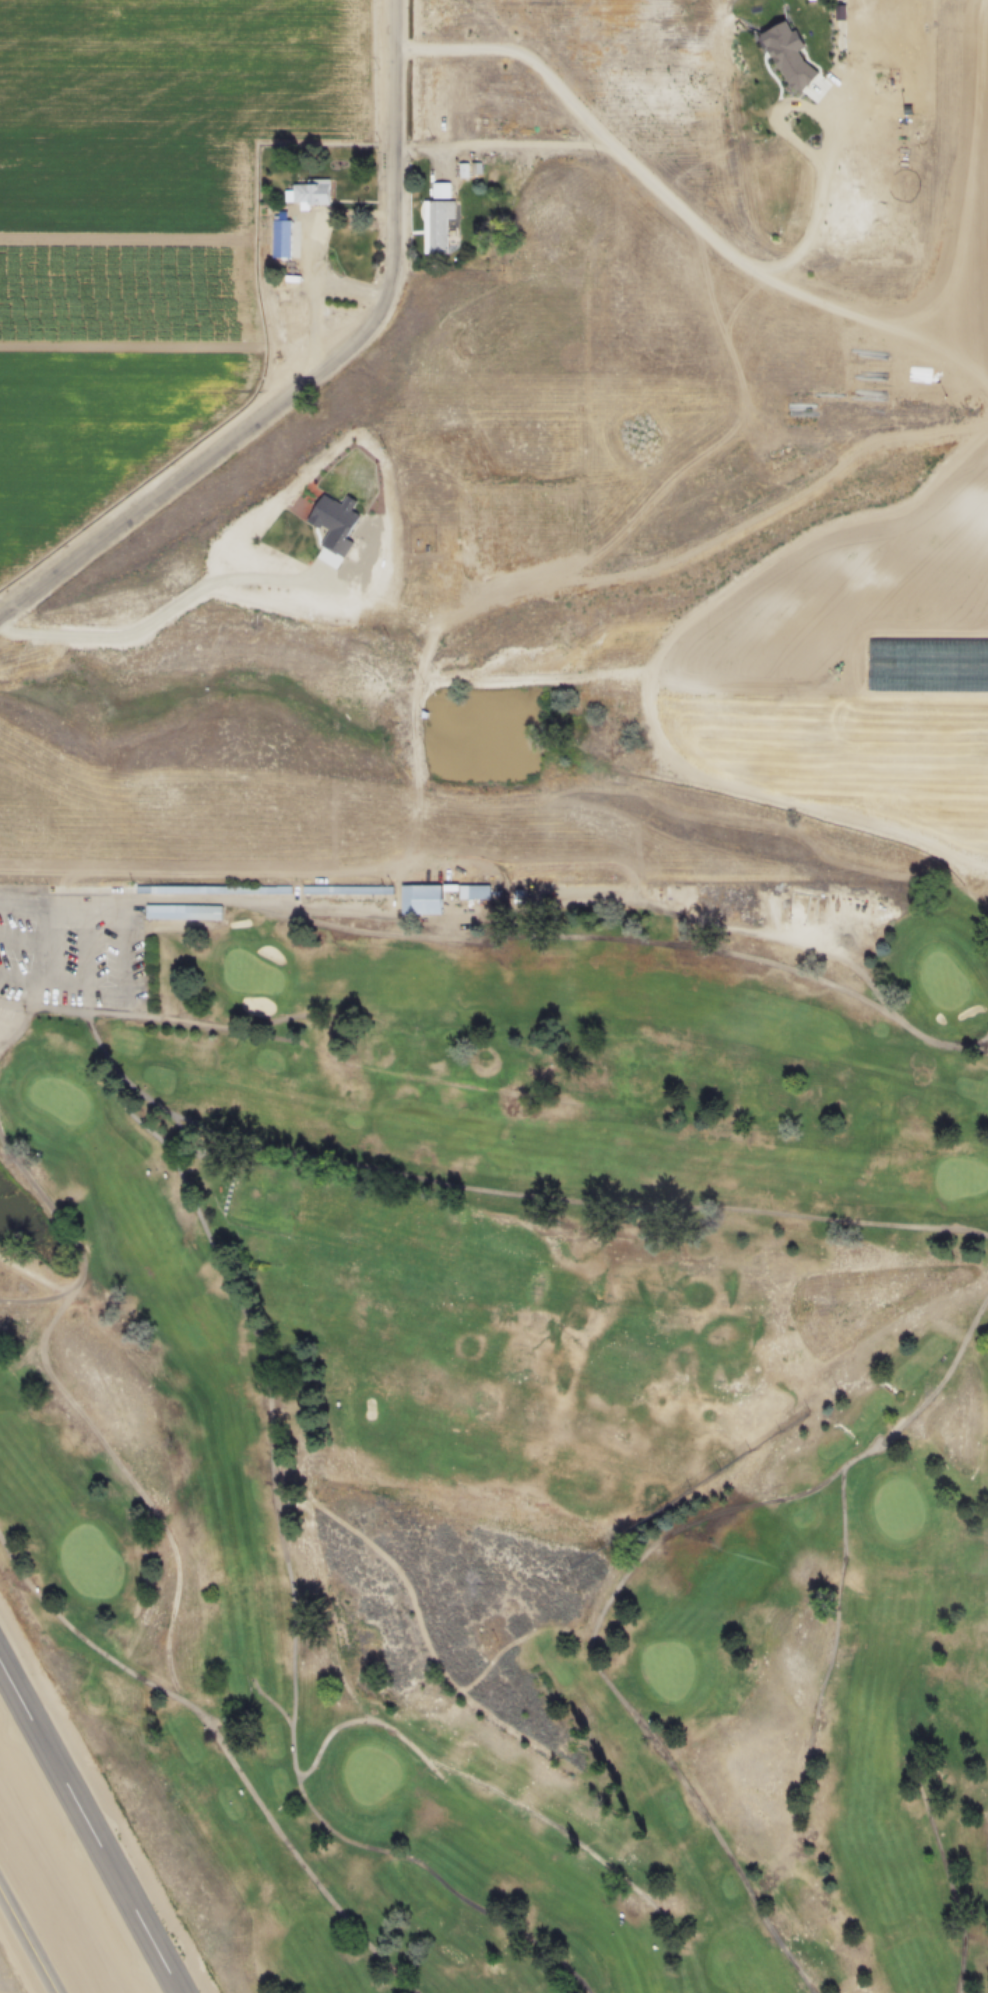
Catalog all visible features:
road: (526, 57)
building: (319, 199)
road: (675, 206)
building: (444, 230)
building: (293, 244)
road: (320, 374)
road: (160, 616)
road: (64, 894)
building: (222, 894)
building: (356, 894)
building: (481, 895)
building: (431, 904)
building: (193, 916)
airport runway: (92, 1822)
airport: (81, 1850)
airport taxiway: (31, 1936)

